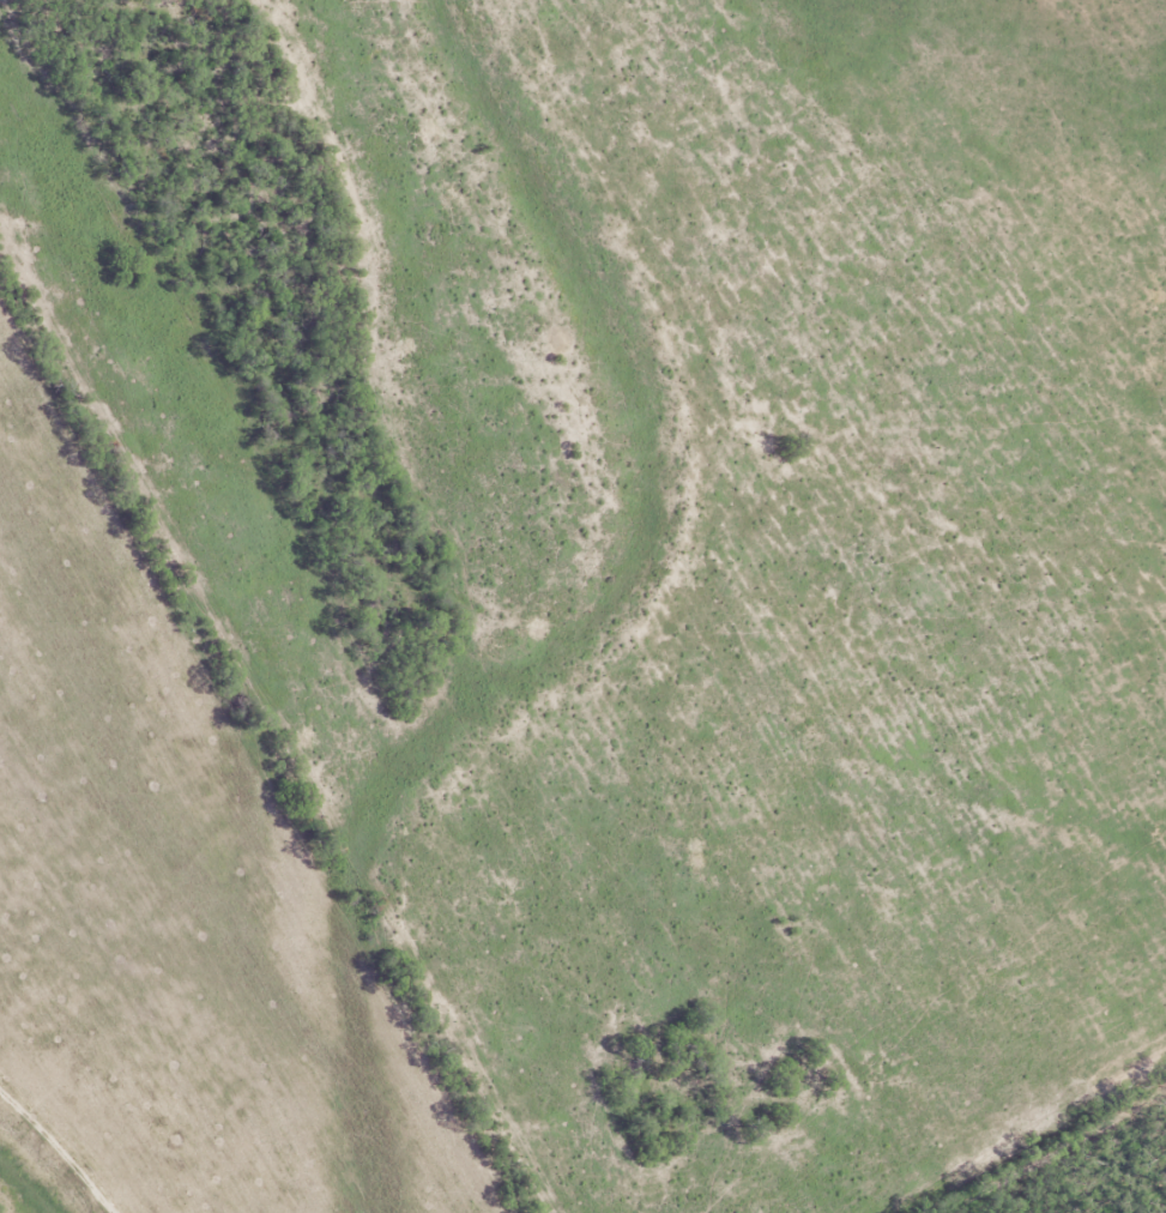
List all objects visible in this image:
road: (1100, 1183)

